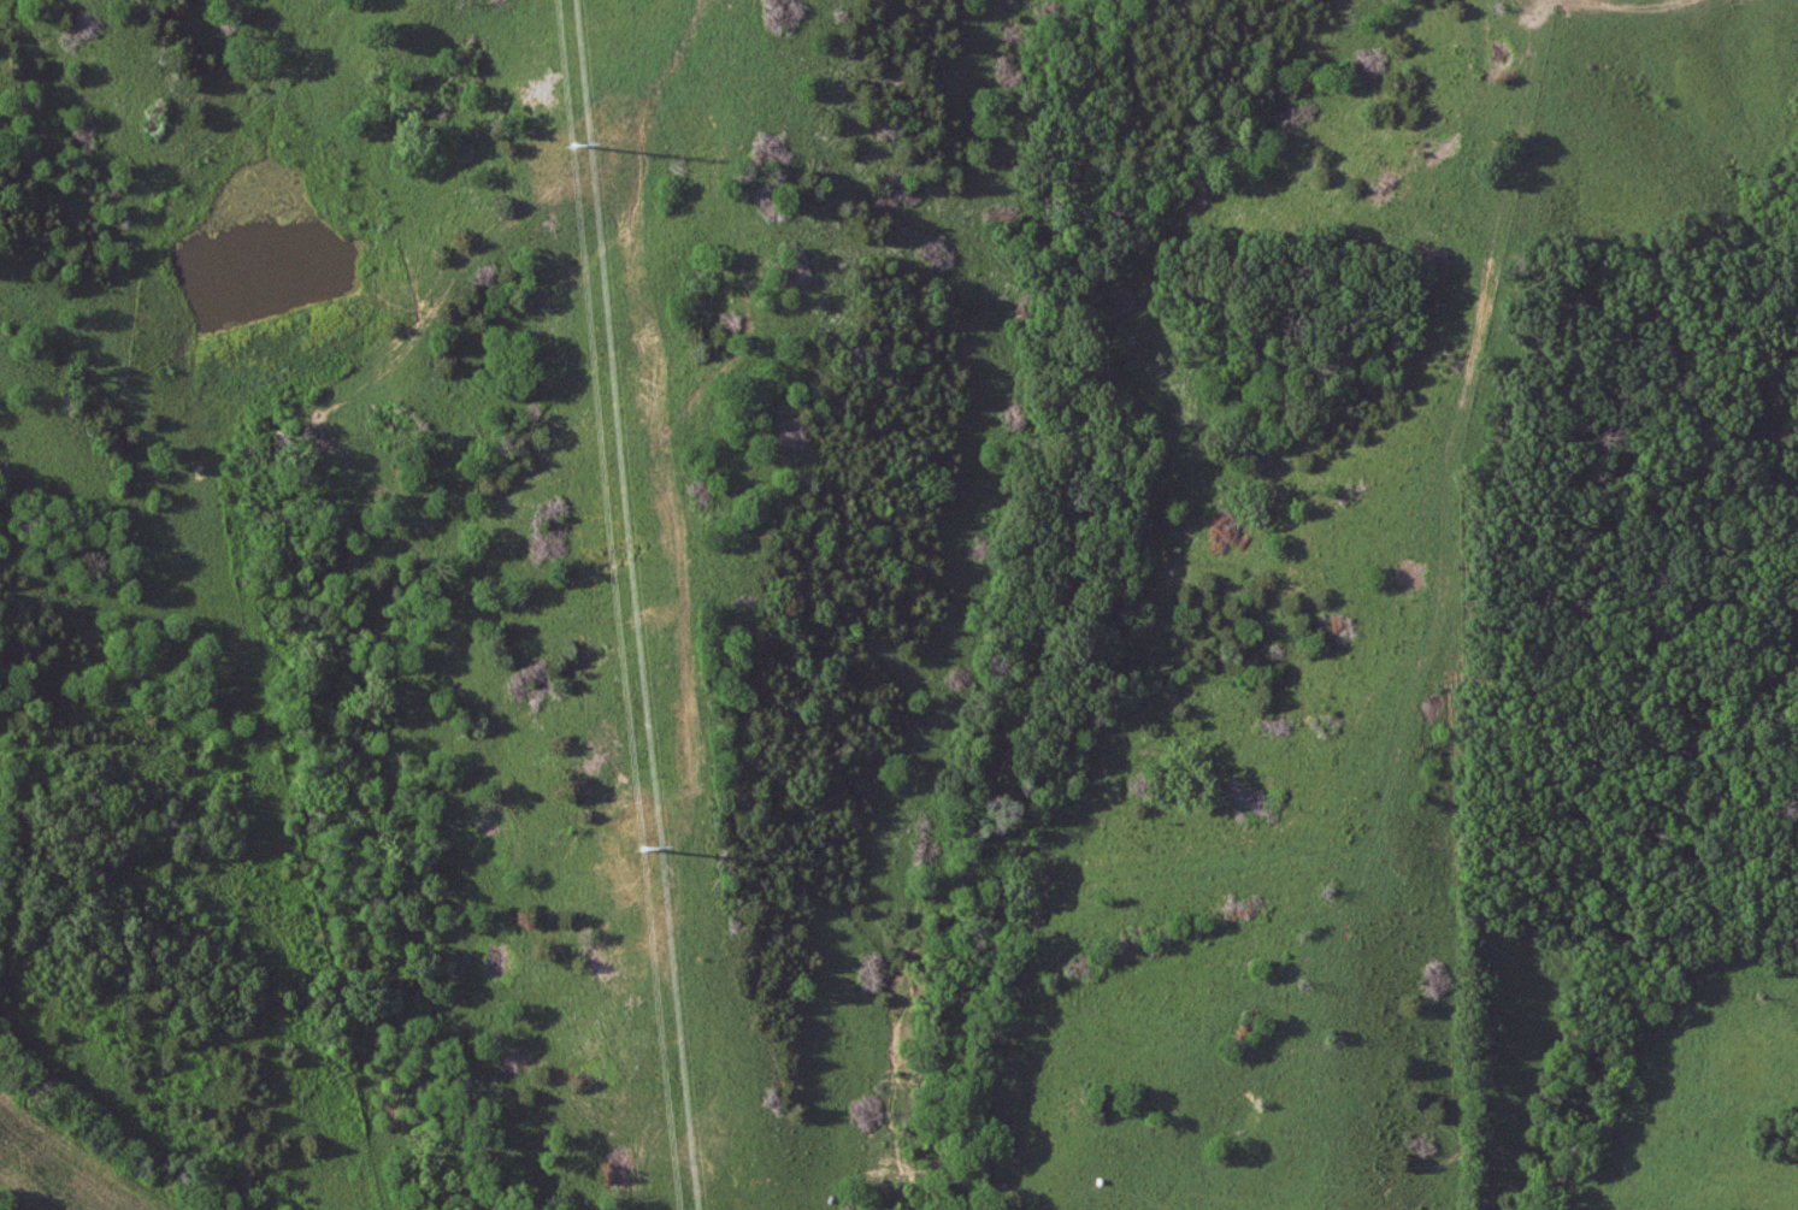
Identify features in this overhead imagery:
power tower: (576, 138)
power tower: (647, 845)

